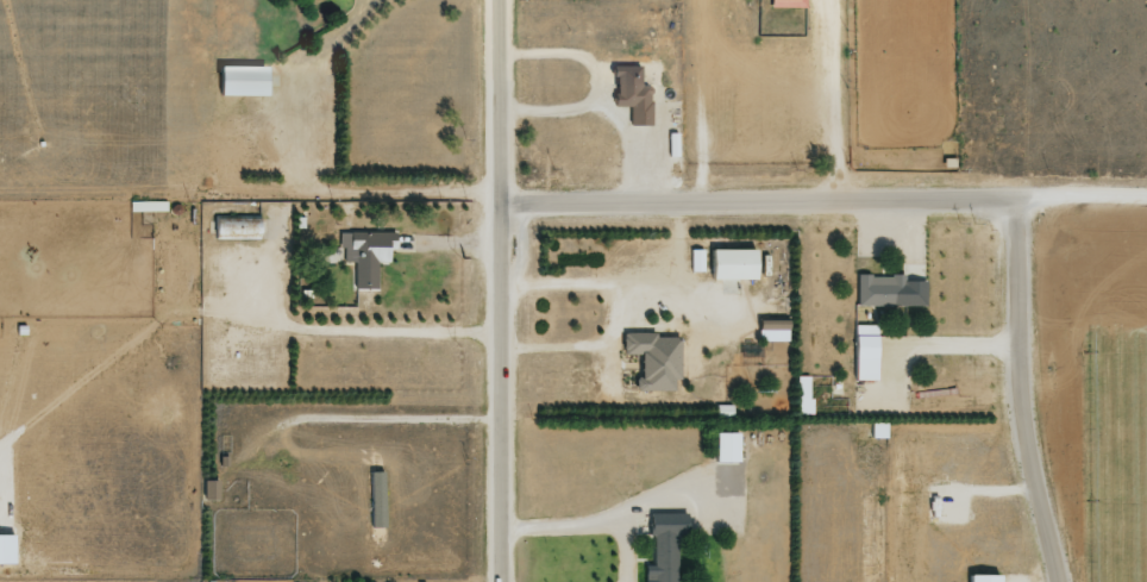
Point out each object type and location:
building: (786, 2)
road: (301, 76)
building: (239, 79)
building: (631, 93)
road: (832, 101)
road: (1079, 200)
road: (754, 205)
building: (364, 254)
building: (695, 259)
building: (729, 263)
road: (265, 267)
road: (496, 290)
building: (888, 290)
building: (771, 330)
building: (864, 351)
building: (652, 359)
road: (1013, 394)
building: (725, 446)
building: (208, 489)
building: (662, 545)
building: (5, 549)
building: (982, 577)

